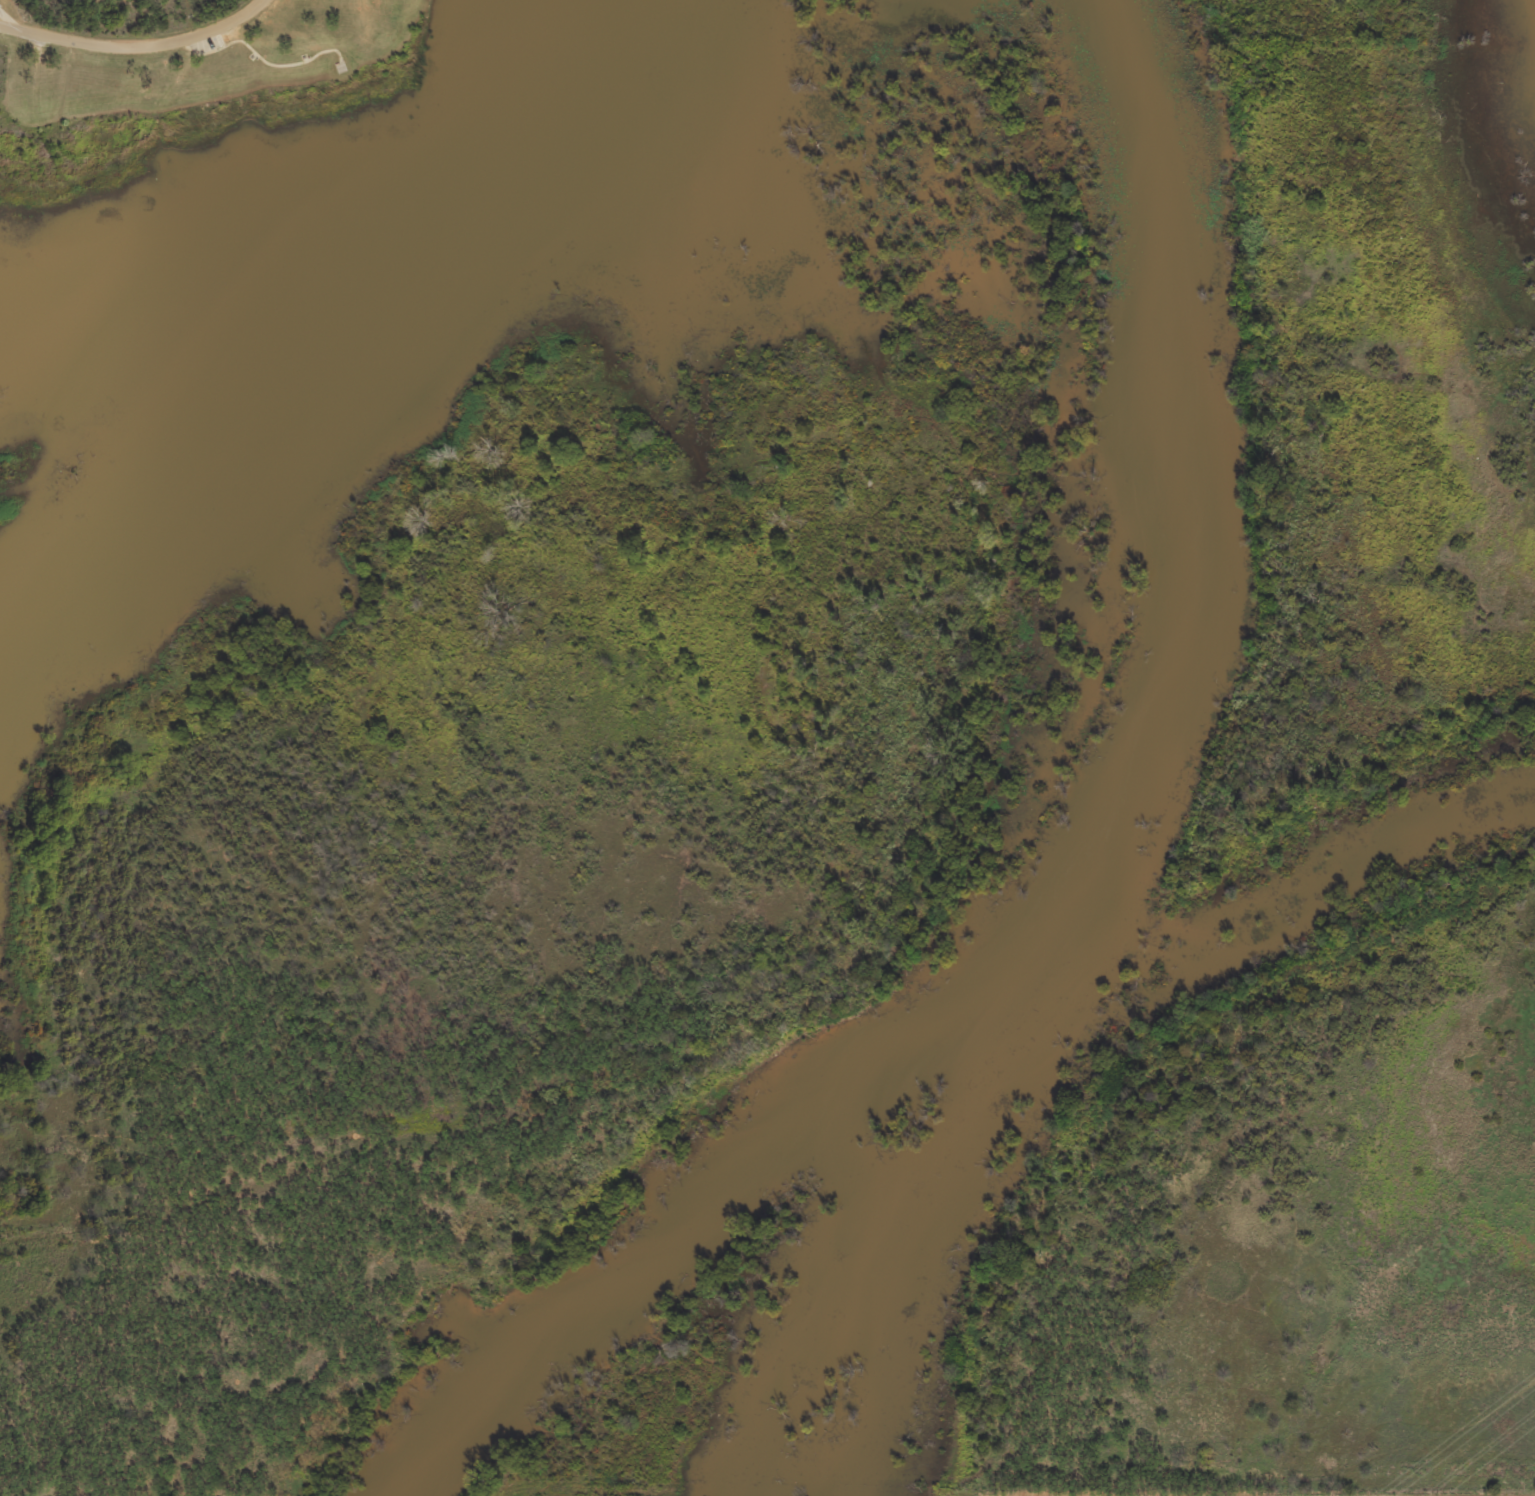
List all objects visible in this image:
parking lot: (207, 41)
road: (134, 43)
road: (267, 62)
road: (338, 73)
park: (200, 121)
park: (64, 455)

